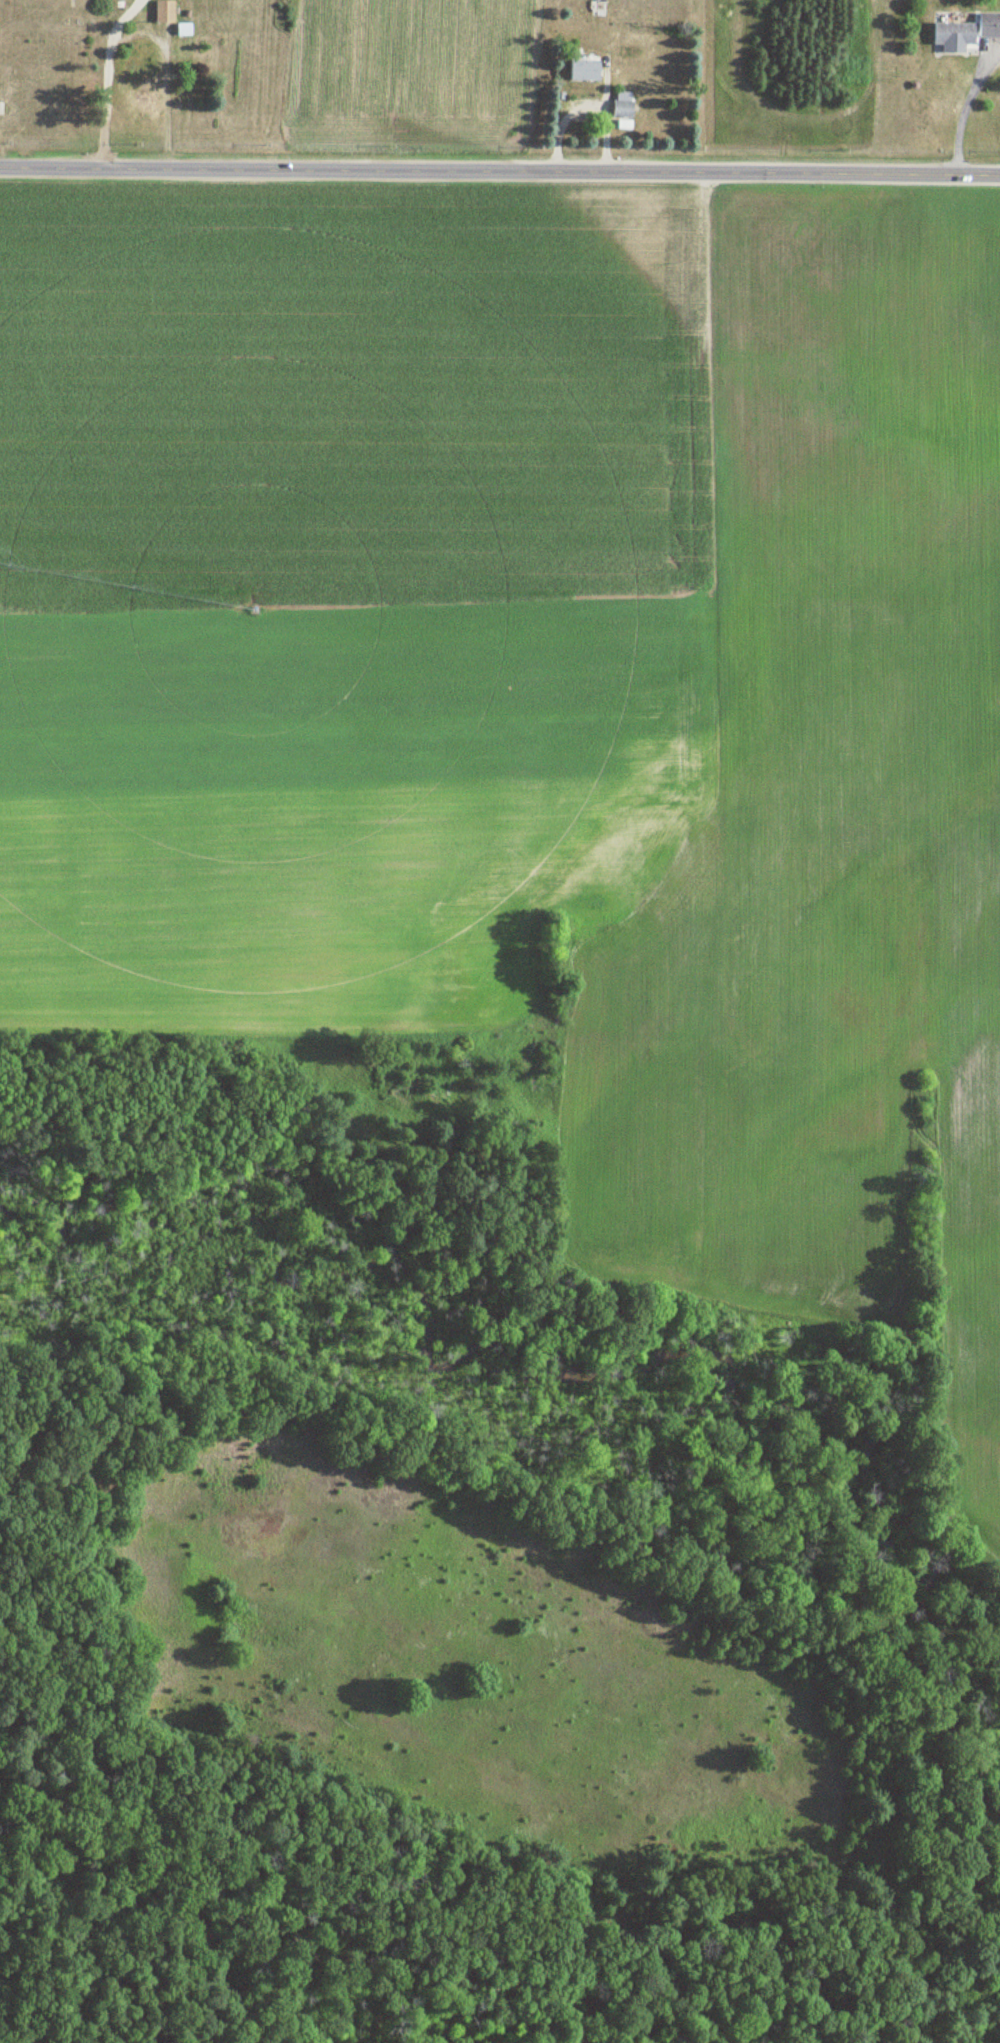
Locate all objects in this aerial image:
building: (166, 10)
building: (963, 31)
building: (578, 69)
road: (109, 80)
road: (602, 95)
road: (581, 108)
building: (617, 109)
road: (960, 111)
road: (500, 171)

